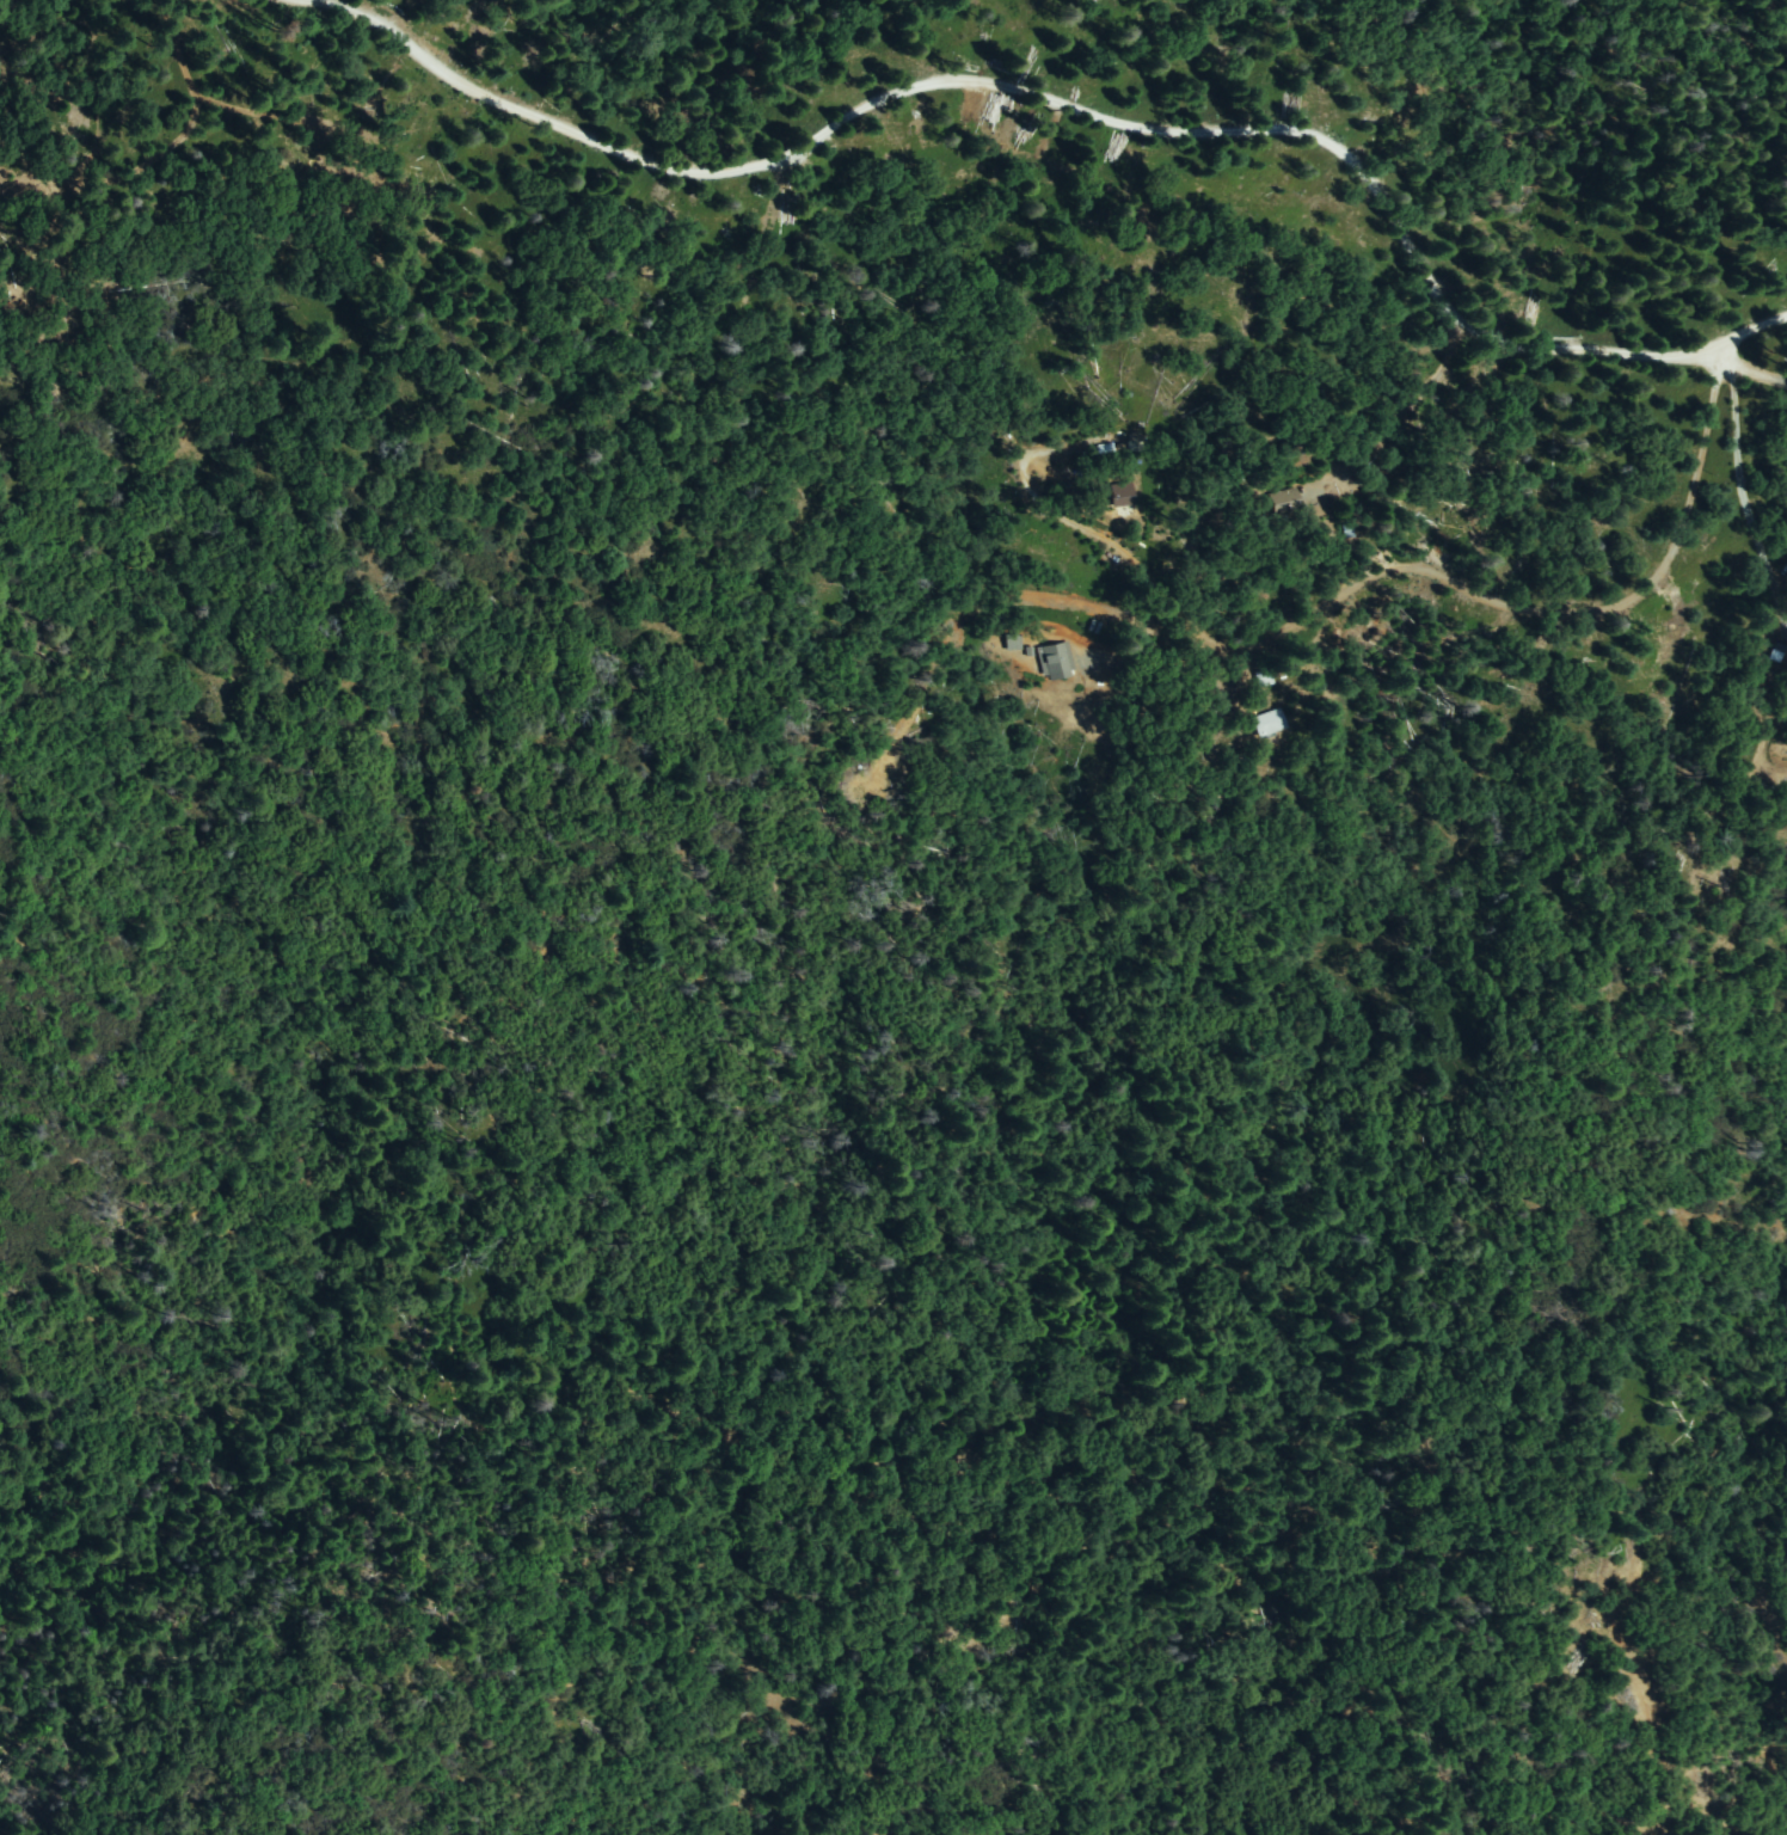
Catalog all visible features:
road: (1085, 110)
road: (1736, 447)
building: (1120, 495)
building: (1284, 502)
building: (1777, 652)
building: (1055, 661)
building: (1269, 724)

